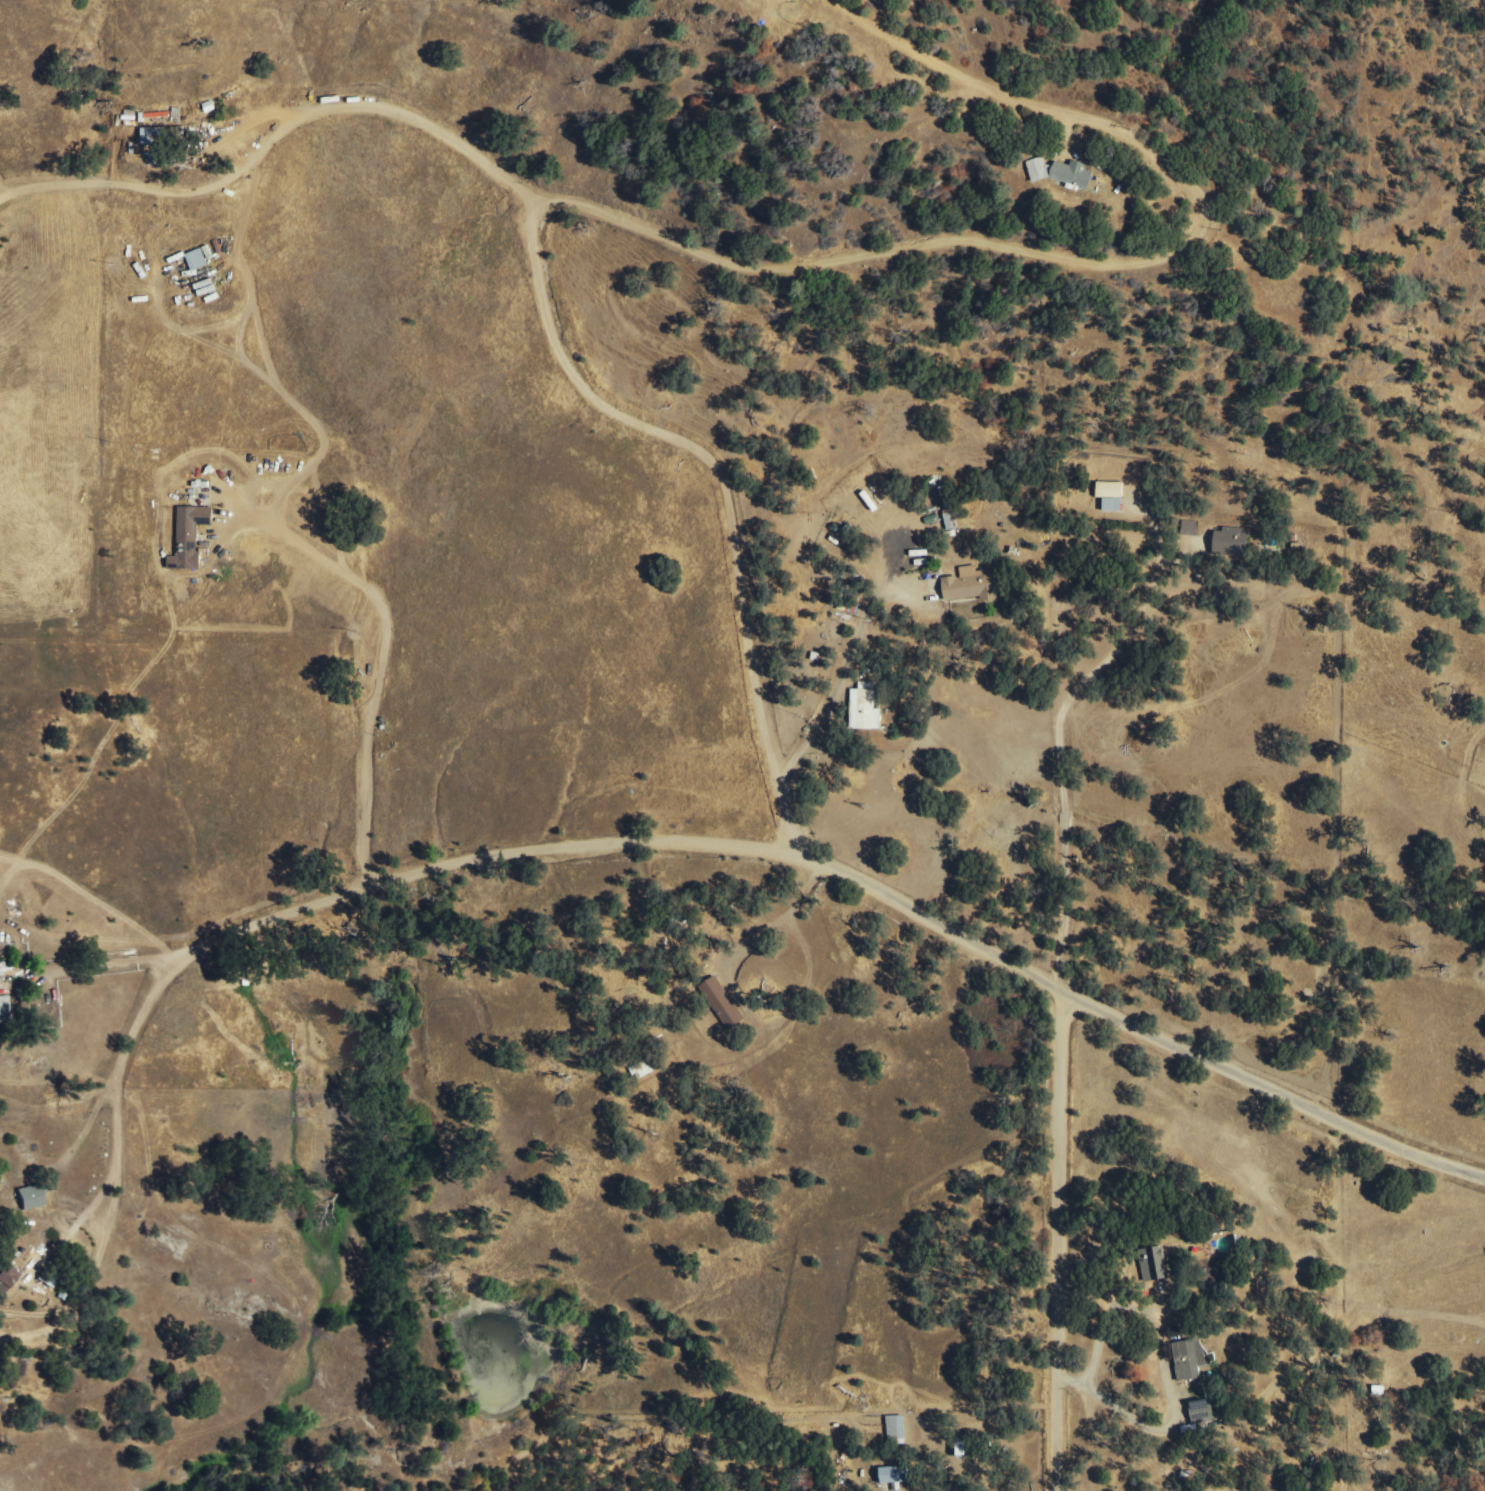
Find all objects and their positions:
road: (967, 79)
building: (152, 135)
road: (271, 140)
building: (1061, 173)
road: (935, 243)
building: (198, 258)
road: (715, 490)
building: (1111, 496)
building: (950, 521)
building: (189, 536)
building: (1231, 543)
building: (971, 585)
road: (382, 652)
building: (864, 708)
road: (1049, 733)
road: (791, 856)
road: (108, 967)
building: (722, 1003)
building: (4, 1010)
road: (119, 1191)
building: (31, 1197)
road: (1063, 1242)
building: (1155, 1265)
building: (7, 1281)
building: (1189, 1359)
road: (1162, 1368)
building: (1202, 1412)
building: (896, 1429)
building: (894, 1475)

